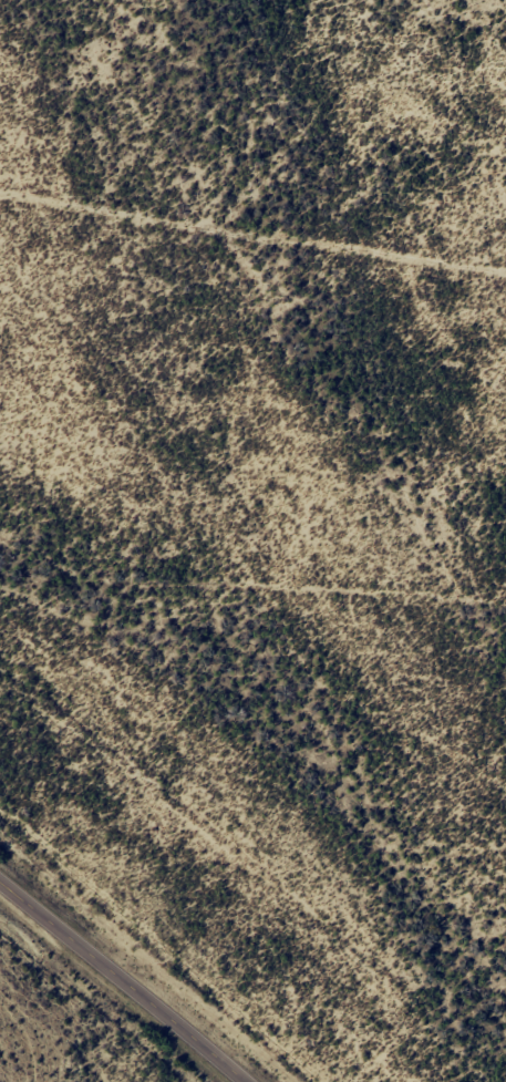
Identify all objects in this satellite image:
road: (124, 980)

